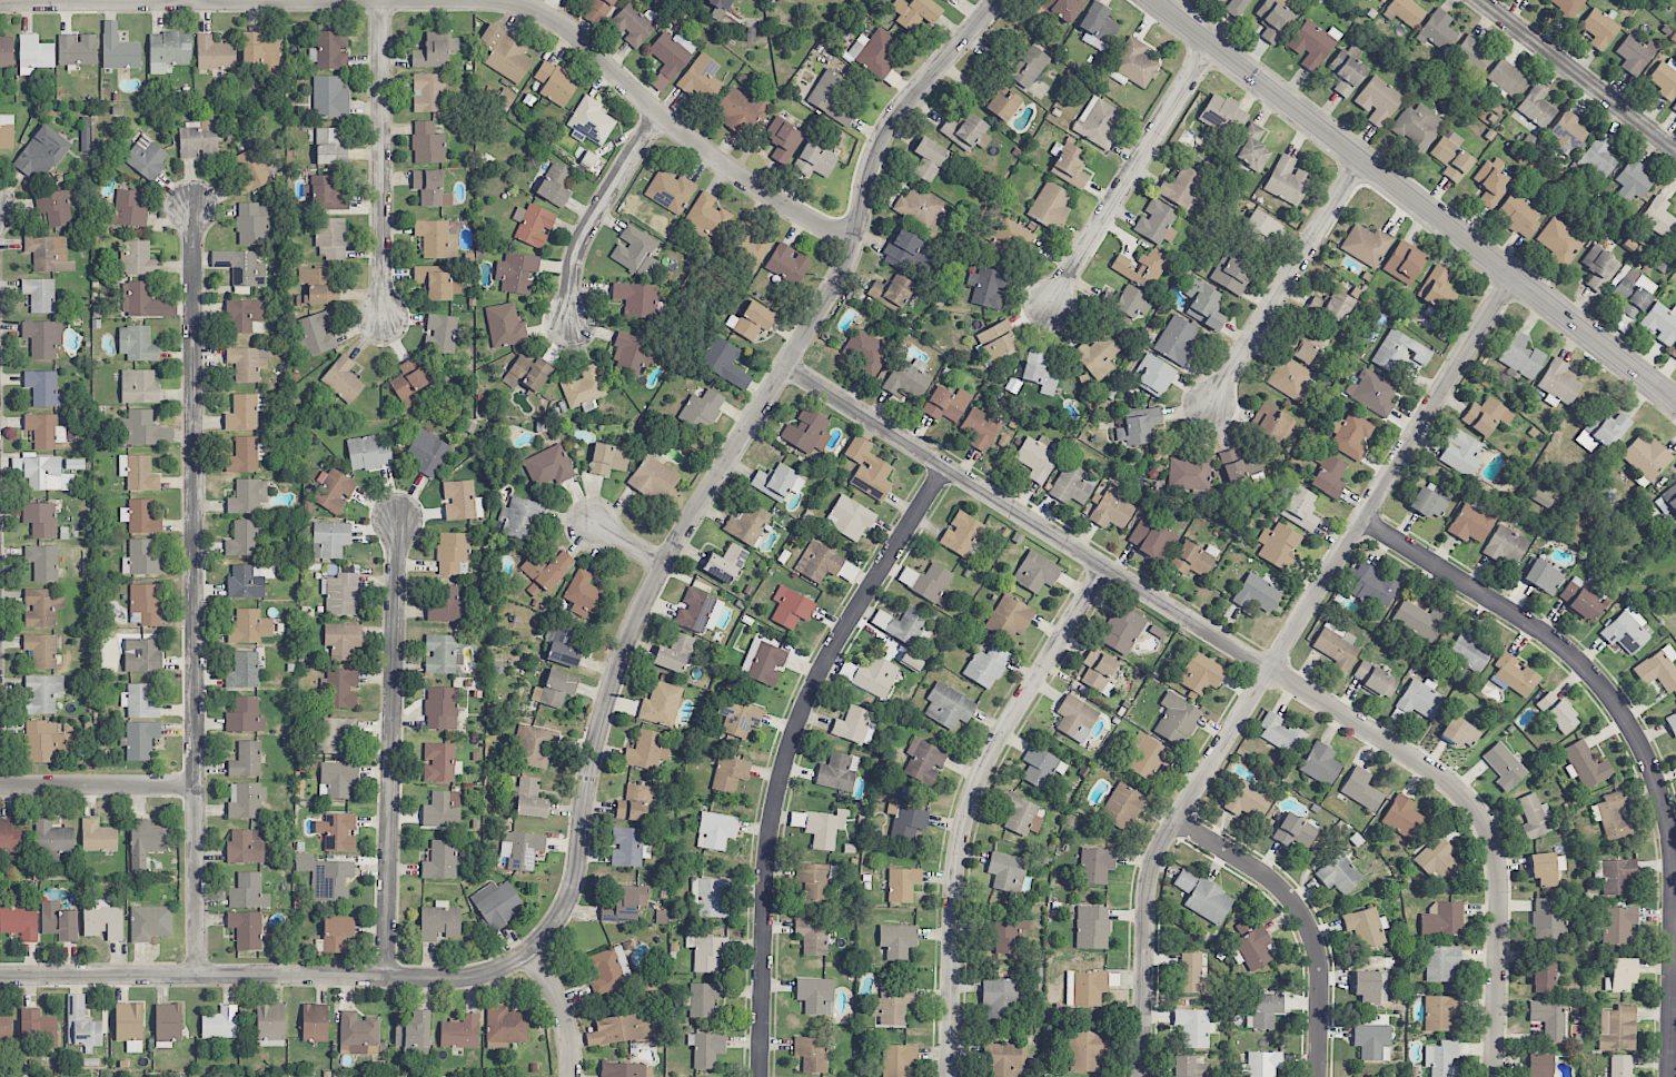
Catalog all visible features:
road: (96, 0)
building: (944, 0)
building: (1369, 0)
building: (1382, 0)
building: (777, 1)
building: (603, 3)
building: (1234, 6)
building: (1566, 6)
building: (718, 8)
building: (1064, 8)
building: (1406, 11)
building: (916, 12)
street lamp: (364, 16)
building: (1272, 19)
building: (633, 24)
building: (1098, 27)
building: (1599, 29)
building: (1437, 30)
building: (1312, 45)
building: (77, 49)
building: (118, 49)
building: (331, 50)
building: (435, 50)
building: (6, 51)
building: (168, 51)
building: (259, 52)
building: (874, 52)
building: (215, 53)
building: (672, 53)
building: (1472, 53)
building: (34, 55)
building: (505, 55)
building: (1634, 55)
building: (1133, 65)
building: (1029, 67)
building: (1347, 70)
street lamp: (1213, 72)
road: (1578, 76)
building: (1665, 78)
building: (702, 79)
building: (1506, 79)
building: (555, 83)
street lamp: (942, 85)
building: (428, 91)
building: (831, 96)
building: (329, 97)
building: (505, 98)
building: (1378, 101)
building: (1003, 103)
building: (1537, 107)
building: (1674, 107)
building: (740, 110)
building: (1223, 115)
street lamp: (636, 116)
building: (591, 121)
building: (1099, 122)
road: (674, 125)
building: (1416, 126)
building: (7, 131)
building: (966, 131)
building: (1567, 134)
building: (783, 139)
building: (198, 140)
building: (85, 141)
building: (427, 144)
building: (330, 147)
building: (1252, 148)
building: (41, 152)
building: (1451, 156)
building: (1598, 157)
building: (146, 158)
road: (380, 158)
building: (929, 159)
building: (814, 161)
building: (1070, 166)
street lamp: (1336, 166)
building: (250, 169)
road: (1131, 172)
street lamp: (181, 176)
building: (1288, 180)
building: (1633, 181)
building: (1490, 185)
building: (554, 186)
building: (1181, 187)
building: (430, 188)
building: (670, 191)
building: (326, 192)
road: (1415, 200)
building: (57, 206)
building: (1050, 206)
building: (920, 208)
building: (129, 209)
road: (595, 211)
street lamp: (841, 214)
building: (1518, 214)
building: (708, 215)
building: (1658, 217)
building: (1157, 223)
building: (252, 224)
building: (533, 225)
building: (1263, 227)
building: (330, 238)
building: (436, 239)
building: (1561, 240)
building: (1366, 245)
building: (903, 250)
building: (635, 251)
building: (48, 254)
building: (139, 259)
building: (1405, 263)
building: (789, 264)
building: (1142, 268)
building: (1599, 268)
building: (240, 269)
building: (516, 273)
building: (1231, 275)
road: (1286, 280)
building: (437, 284)
building: (314, 286)
building: (988, 287)
building: (1438, 290)
building: (1630, 290)
building: (891, 293)
building: (39, 295)
building: (636, 299)
building: (143, 302)
building: (1131, 302)
building: (1203, 305)
street lamp: (1514, 305)
building: (1337, 307)
building: (247, 316)
building: (751, 320)
building: (1660, 324)
building: (505, 326)
building: (318, 333)
building: (440, 334)
building: (42, 338)
building: (1177, 339)
building: (998, 340)
building: (137, 344)
street lamp: (589, 346)
street lamp: (381, 347)
building: (1302, 350)
building: (865, 352)
building: (1399, 352)
building: (1674, 354)
building: (631, 355)
building: (1097, 355)
building: (1520, 356)
building: (724, 362)
building: (247, 363)
building: (1041, 372)
building: (527, 373)
building: (1153, 375)
building: (1289, 378)
building: (343, 379)
building: (908, 379)
building: (409, 382)
building: (1559, 382)
building: (139, 386)
street lamp: (791, 387)
building: (43, 388)
building: (583, 388)
building: (1372, 392)
building: (946, 404)
building: (702, 409)
building: (1486, 416)
street lamp: (1233, 423)
building: (1272, 423)
building: (1137, 426)
building: (980, 428)
building: (143, 429)
building: (44, 431)
building: (1604, 431)
building: (806, 432)
building: (1350, 435)
building: (427, 452)
building: (1460, 452)
building: (368, 453)
building: (244, 455)
building: (609, 457)
building: (1037, 458)
building: (1646, 458)
road: (727, 460)
building: (1232, 465)
building: (547, 466)
building: (869, 470)
building: (43, 473)
building: (138, 473)
building: (1189, 474)
building: (1328, 474)
building: (654, 480)
building: (777, 482)
building: (1073, 484)
street lamp: (398, 487)
building: (335, 492)
building: (248, 496)
building: (460, 501)
building: (1667, 501)
building: (1430, 502)
building: (1300, 508)
building: (1111, 511)
building: (519, 516)
building: (141, 517)
road: (1028, 517)
building: (849, 518)
building: (40, 520)
building: (1474, 521)
building: (747, 524)
building: (961, 534)
building: (331, 537)
building: (1151, 537)
building: (242, 538)
street lamp: (657, 541)
road: (626, 543)
building: (1278, 545)
building: (1506, 545)
building: (452, 552)
building: (141, 559)
building: (1192, 559)
building: (42, 562)
building: (819, 562)
building: (725, 563)
building: (545, 572)
building: (1037, 572)
building: (1544, 577)
building: (246, 582)
building: (926, 582)
building: (1372, 585)
road: (194, 590)
building: (1256, 593)
building: (343, 594)
building: (584, 594)
building: (1580, 599)
building: (146, 604)
building: (445, 605)
building: (42, 606)
building: (791, 607)
building: (697, 611)
building: (1009, 617)
building: (1419, 621)
building: (901, 624)
building: (249, 628)
building: (1122, 630)
building: (1626, 631)
building: (343, 639)
building: (563, 645)
building: (1336, 645)
building: (41, 650)
building: (1469, 650)
building: (674, 653)
building: (442, 654)
road: (1573, 654)
building: (142, 655)
road: (1278, 661)
building: (763, 662)
building: (985, 666)
building: (1658, 669)
building: (244, 671)
building: (1098, 671)
building: (1200, 674)
building: (870, 675)
building: (1514, 675)
building: (1376, 679)
building: (341, 689)
building: (555, 689)
building: (43, 693)
building: (1420, 699)
building: (140, 701)
building: (661, 704)
building: (948, 707)
building: (442, 708)
building: (1557, 712)
building: (245, 715)
building: (1074, 715)
building: (738, 717)
building: (1177, 719)
building: (1672, 723)
building: (854, 725)
building: (1459, 732)
building: (1281, 734)
building: (336, 735)
building: (140, 740)
building: (46, 741)
building: (536, 747)
road: (390, 748)
building: (645, 751)
road: (790, 752)
building: (1148, 757)
building: (246, 760)
building: (924, 760)
building: (439, 762)
building: (1320, 764)
building: (1585, 764)
building: (1041, 767)
building: (1504, 767)
street lamp: (178, 770)
building: (837, 772)
building: (730, 773)
building: (339, 778)
road: (97, 784)
building: (1361, 789)
building: (246, 799)
building: (530, 799)
building: (1248, 800)
building: (636, 803)
road: (972, 804)
building: (1121, 807)
building: (442, 810)
building: (1534, 816)
building: (1401, 817)
road: (1481, 819)
building: (908, 823)
building: (824, 828)
building: (716, 830)
building: (1295, 831)
building: (98, 837)
building: (13, 838)
building: (52, 838)
building: (145, 843)
building: (245, 847)
building: (628, 847)
building: (524, 849)
building: (1437, 859)
building: (440, 860)
building: (1097, 866)
building: (1547, 868)
building: (1006, 873)
building: (1338, 873)
building: (1615, 876)
building: (326, 877)
building: (1184, 880)
building: (815, 881)
building: (902, 883)
building: (248, 892)
building: (713, 897)
building: (1208, 901)
building: (624, 902)
building: (496, 905)
road: (1306, 917)
building: (103, 920)
building: (1442, 920)
building: (1547, 920)
building: (59, 921)
building: (439, 921)
building: (20, 922)
building: (149, 922)
building: (1618, 925)
building: (1092, 927)
building: (1365, 927)
building: (246, 929)
building: (337, 933)
building: (812, 936)
building: (1008, 936)
building: (897, 940)
building: (1251, 946)
building: (707, 952)
street lamp: (547, 954)
street lamp: (211, 958)
street lamp: (368, 961)
building: (1441, 962)
building: (609, 970)
building: (1544, 972)
road: (266, 974)
building: (1191, 974)
building: (1620, 975)
building: (1370, 987)
building: (814, 994)
building: (704, 999)
building: (999, 999)
building: (896, 1002)
road: (1673, 1002)
road: (562, 1010)
building: (1265, 1010)
building: (1439, 1014)
building: (1548, 1019)
building: (315, 1022)
building: (81, 1024)
building: (220, 1024)
building: (6, 1025)
building: (168, 1025)
building: (270, 1025)
building: (129, 1026)
building: (505, 1026)
building: (1193, 1027)
building: (39, 1028)
building: (1617, 1028)
building: (619, 1029)
building: (414, 1030)
building: (359, 1032)
building: (460, 1032)
building: (1372, 1041)
building: (706, 1048)
building: (415, 1051)
building: (1087, 1051)
building: (812, 1054)
building: (1442, 1058)
building: (896, 1059)
building: (1006, 1060)
building: (1262, 1064)
building: (1539, 1065)
building: (1622, 1066)
building: (1188, 1067)
building: (625, 1069)

